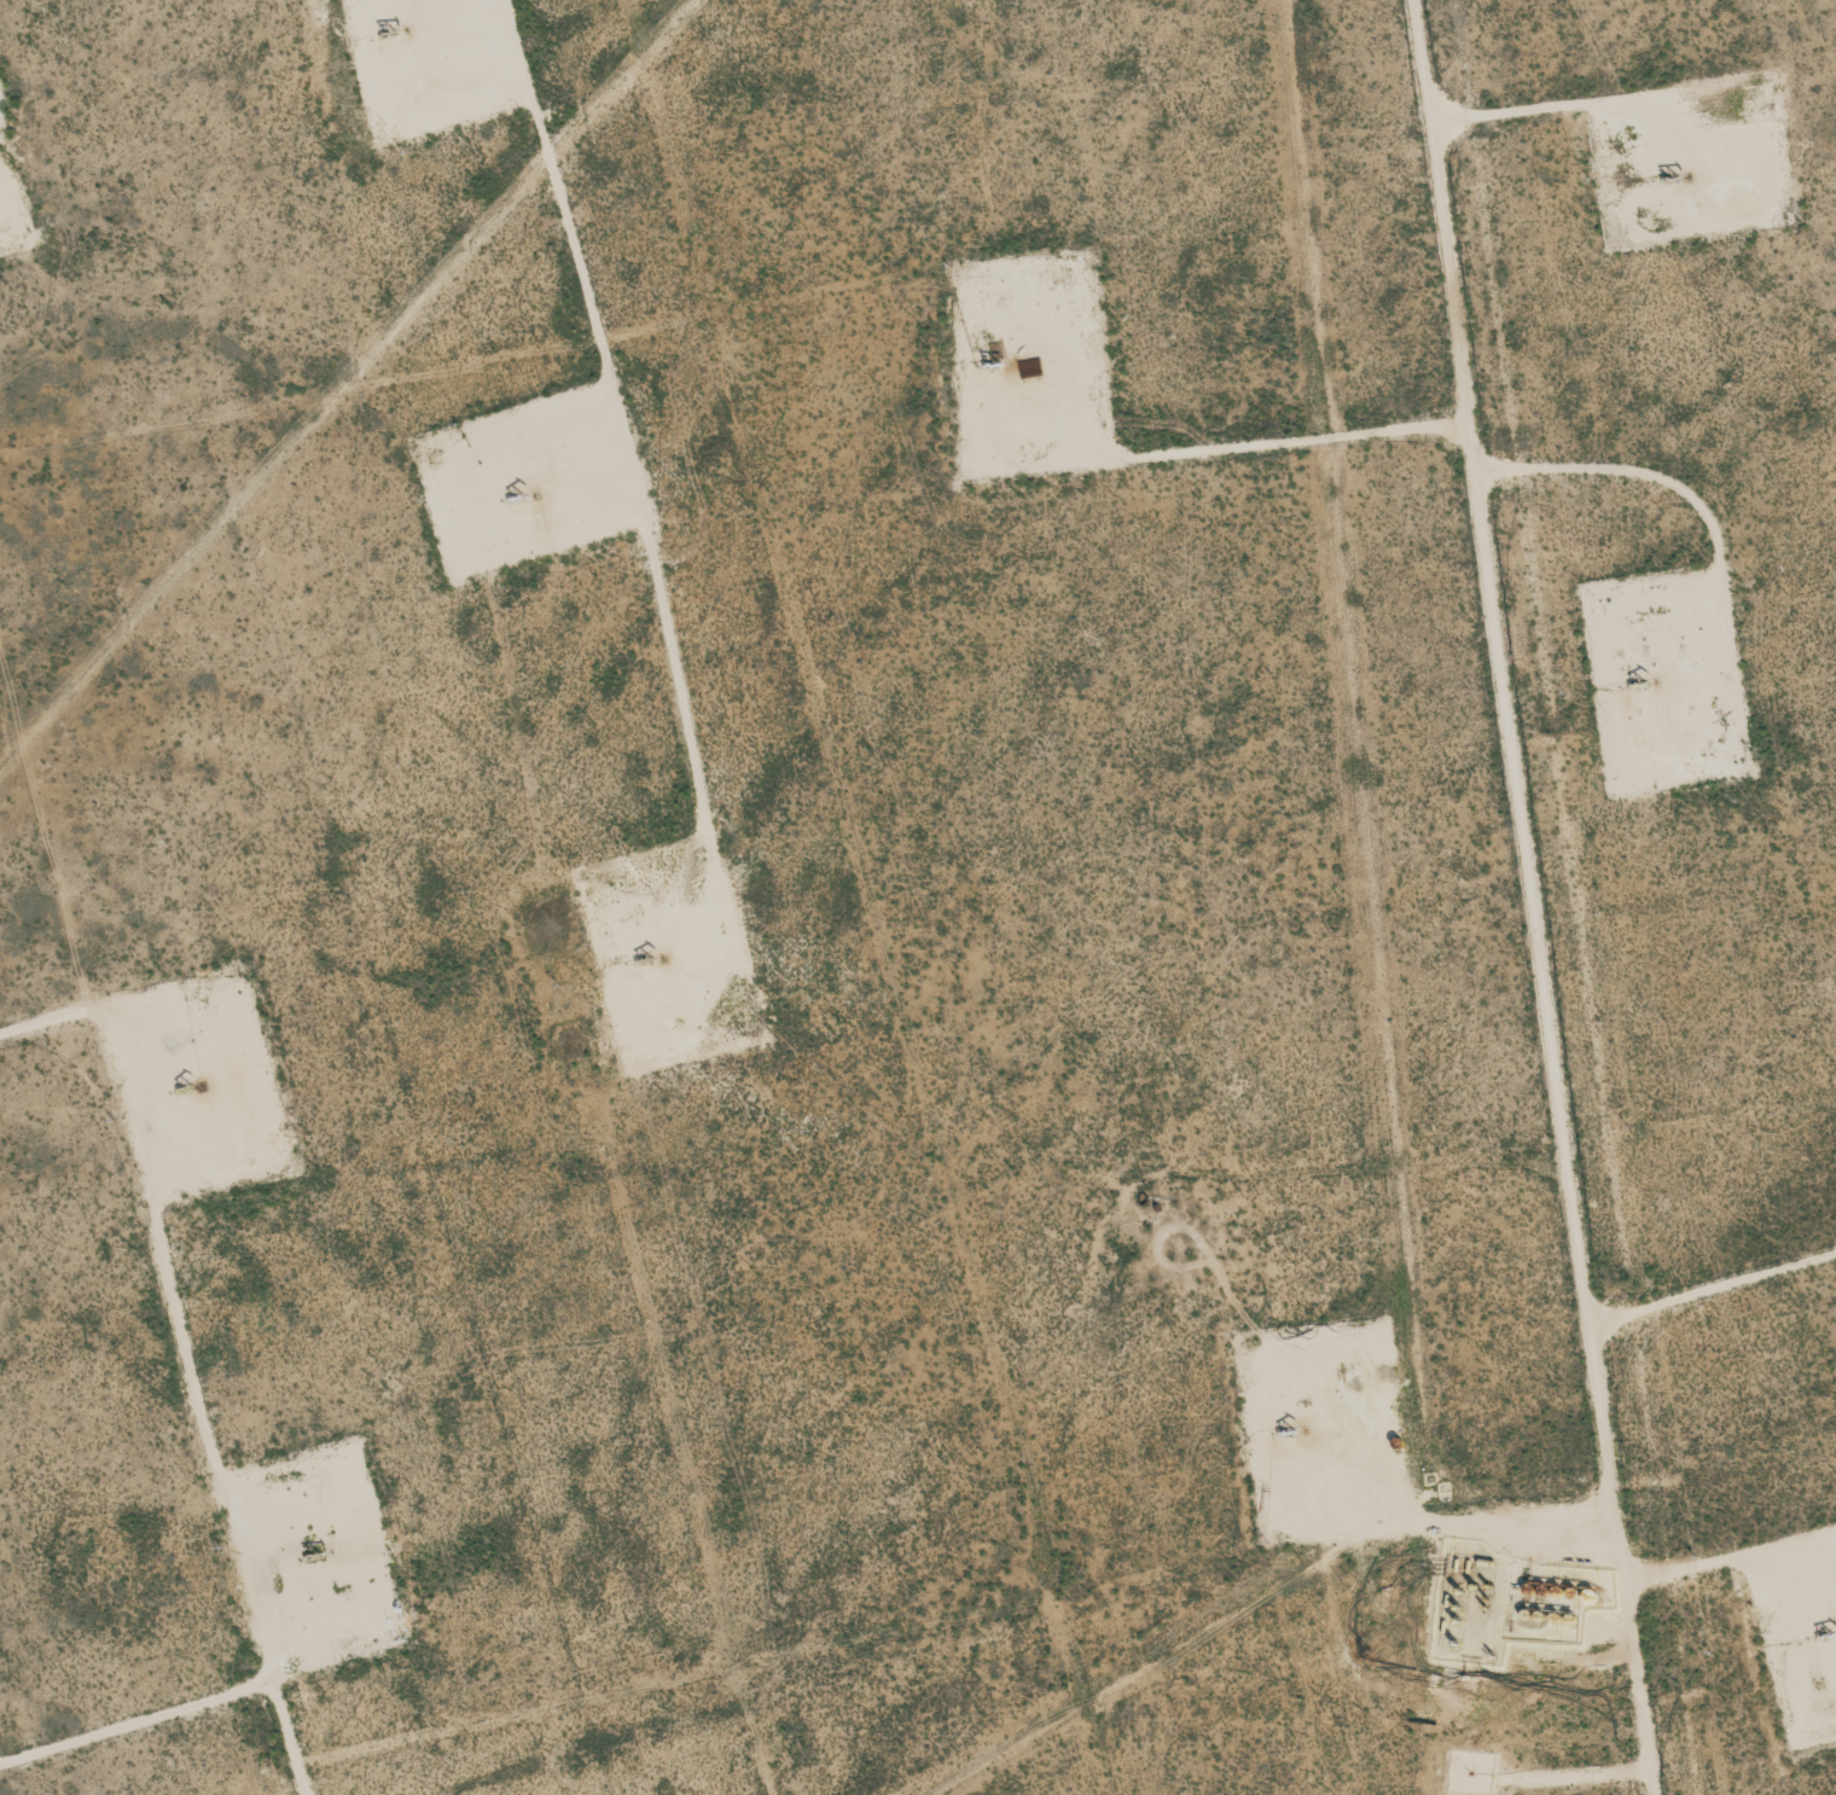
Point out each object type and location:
road: (624, 428)
road: (1535, 898)
road: (196, 1341)

